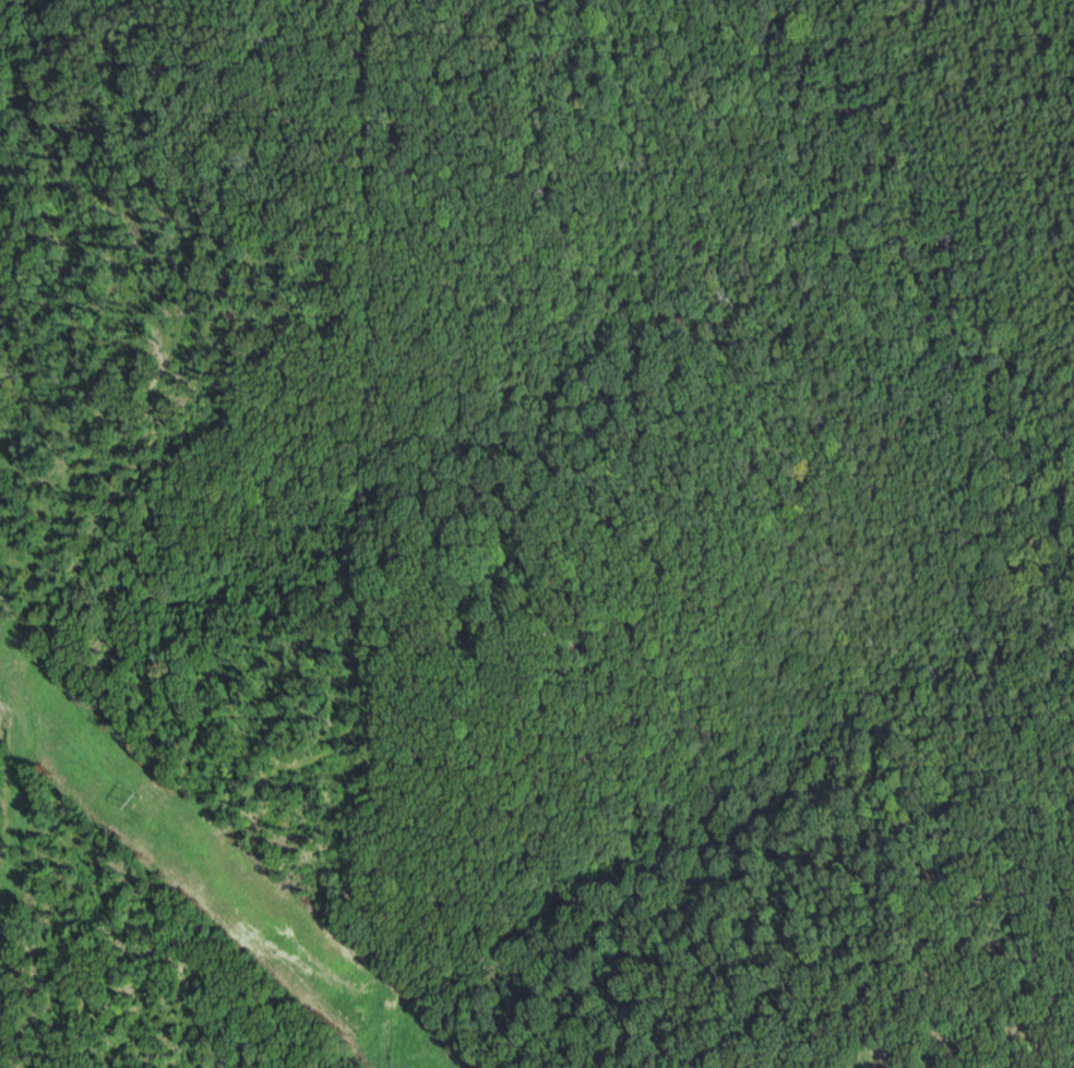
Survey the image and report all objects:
power tower: (141, 804)
road: (397, 813)

